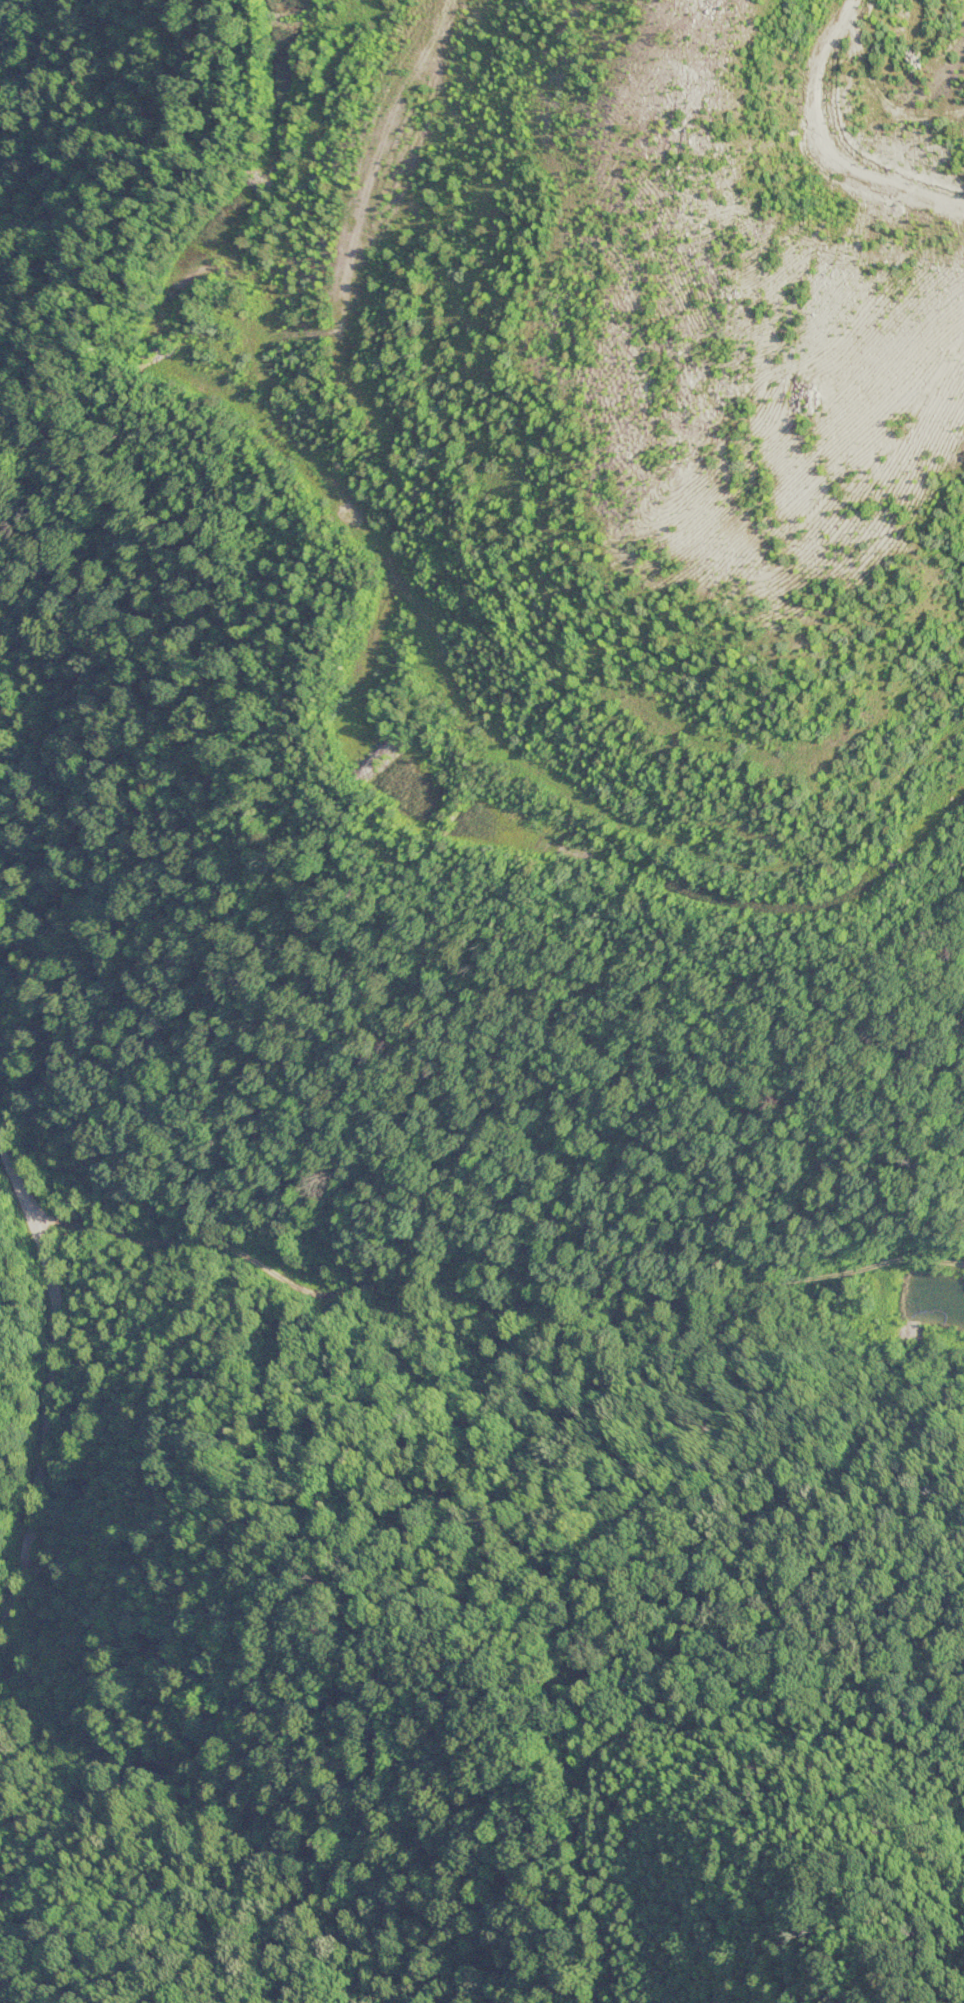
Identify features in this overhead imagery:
quarry: (606, 413)
road: (50, 1396)

